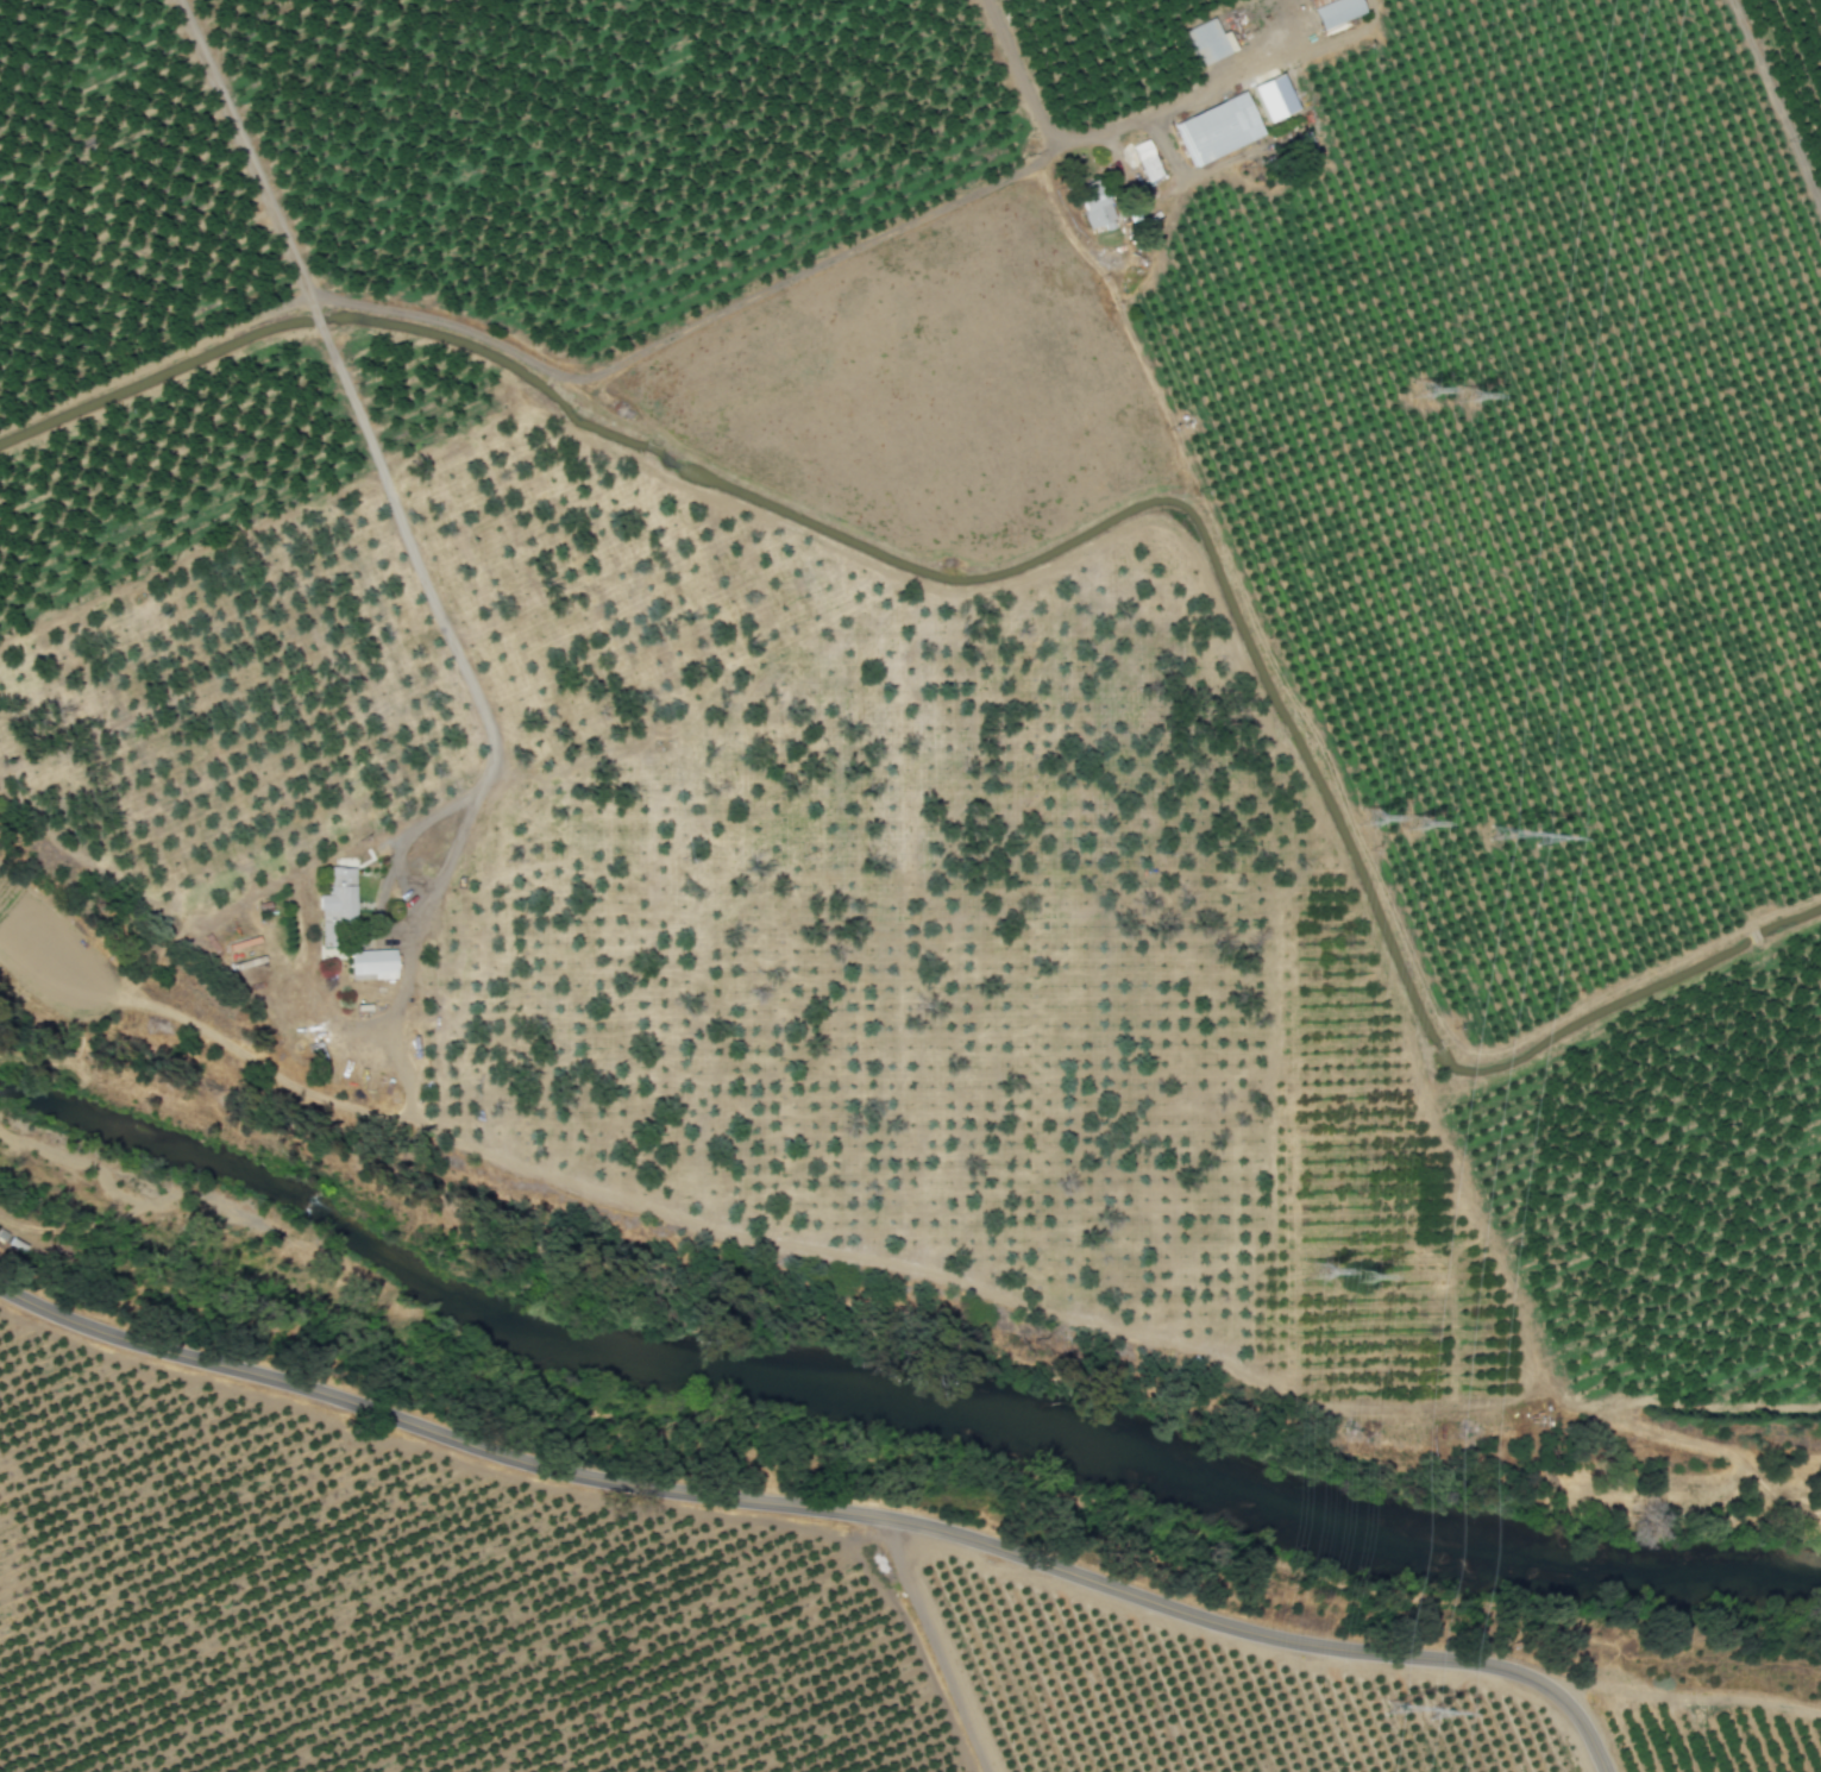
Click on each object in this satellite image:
building: (1312, 2)
building: (1333, 12)
building: (1205, 42)
road: (1219, 82)
building: (1269, 95)
road: (1777, 100)
building: (1212, 128)
building: (1143, 161)
building: (1092, 213)
road: (753, 291)
road: (346, 385)
power tower: (1415, 392)
power tower: (1464, 396)
power tower: (1368, 819)
power tower: (1411, 825)
power tower: (1508, 838)
road: (402, 881)
building: (334, 894)
building: (338, 915)
road: (410, 951)
building: (373, 966)
road: (153, 1008)
road: (260, 1041)
road: (59, 1067)
road: (313, 1094)
road: (1269, 1225)
power tower: (1314, 1274)
road: (933, 1276)
power tower: (1362, 1278)
river: (899, 1377)
road: (818, 1510)
road: (938, 1647)
road: (1688, 1664)
power tower: (1407, 1715)

